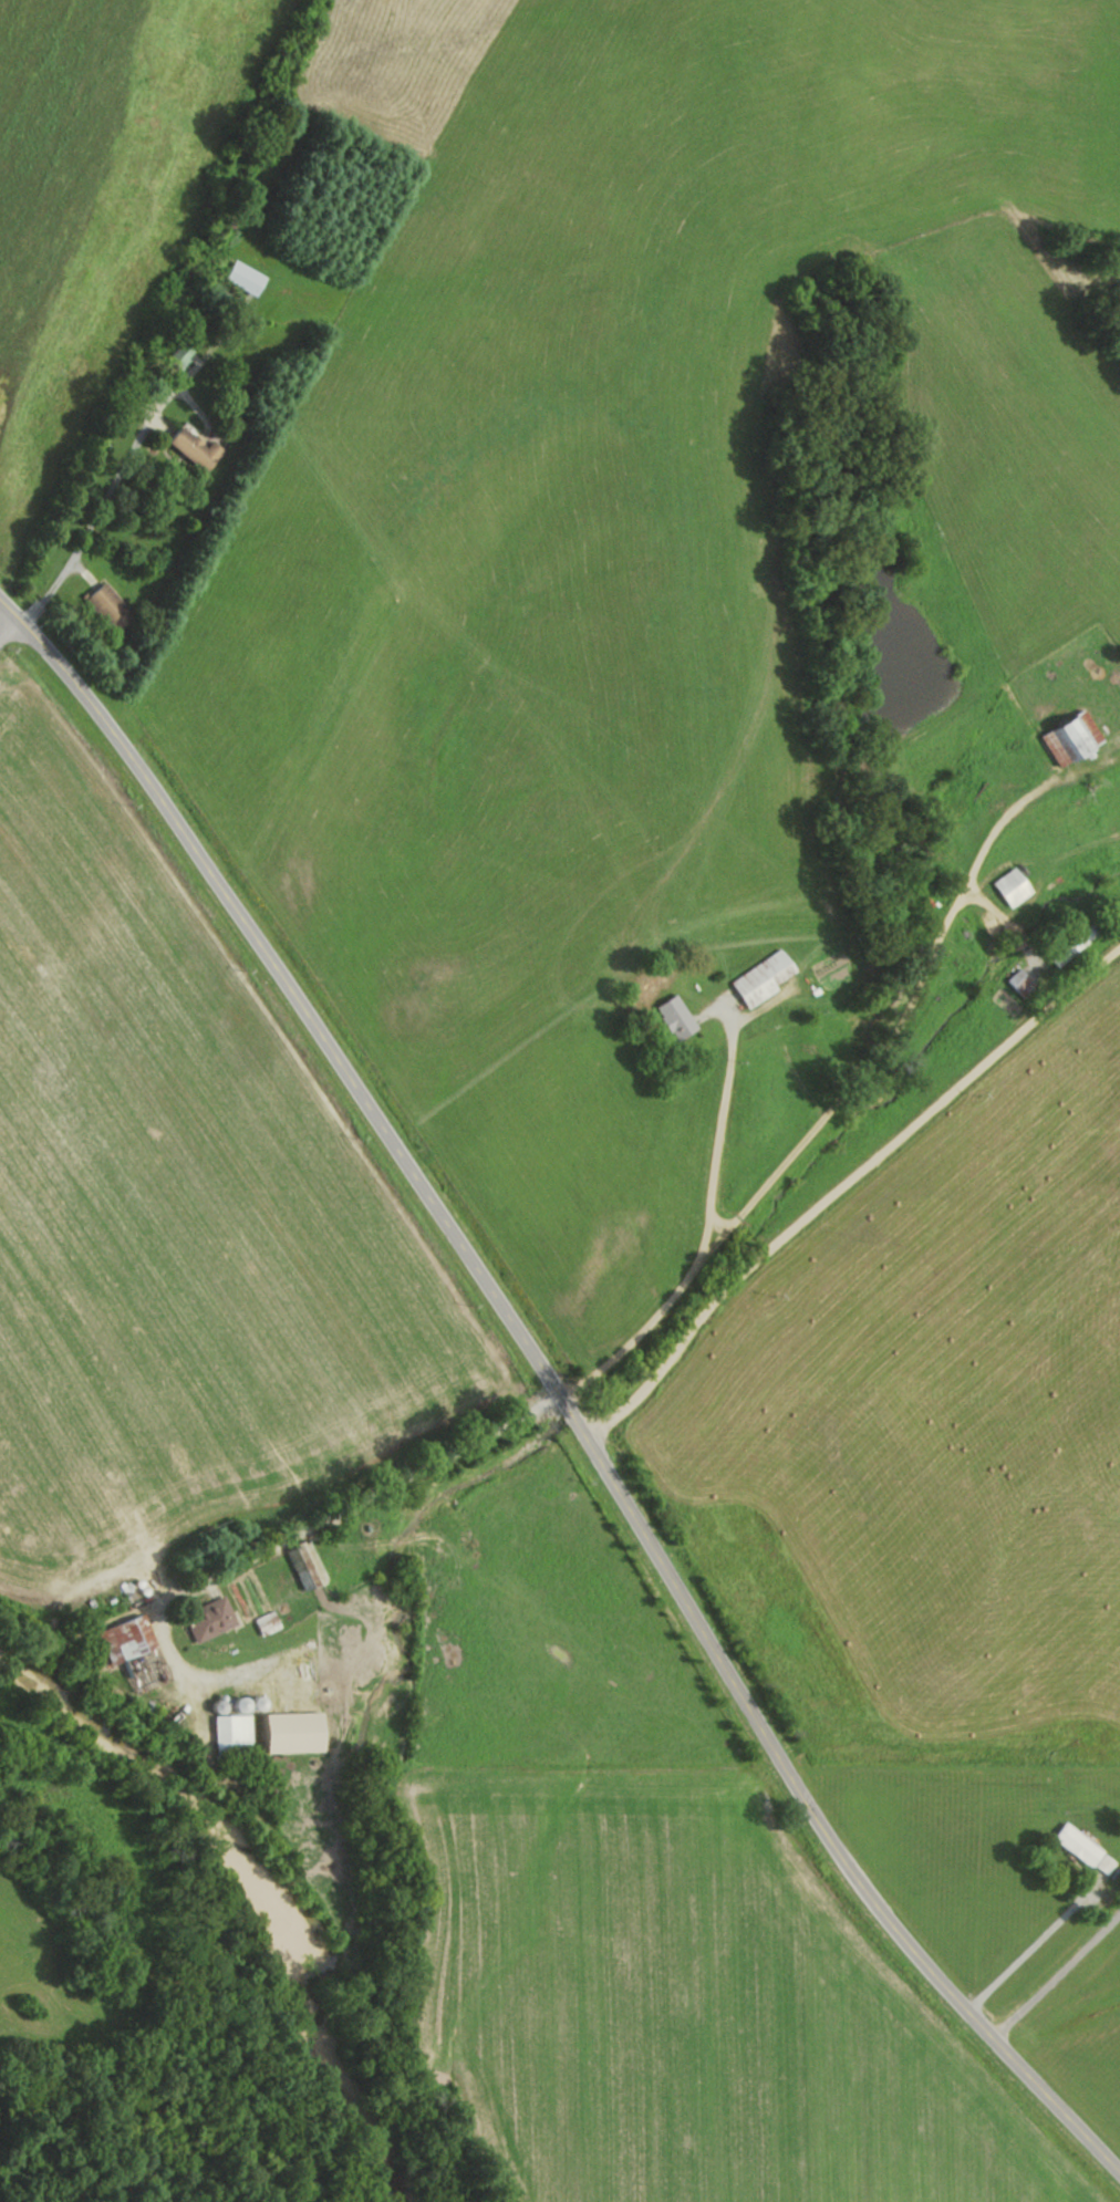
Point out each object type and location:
building: (246, 278)
building: (194, 447)
road: (100, 505)
building: (107, 607)
road: (6, 620)
building: (1064, 735)
building: (1006, 887)
building: (1066, 948)
building: (756, 979)
building: (668, 1017)
road: (815, 1126)
road: (719, 1138)
road: (841, 1185)
road: (551, 1393)
road: (292, 1535)
building: (210, 1619)
building: (267, 1622)
building: (128, 1642)
building: (142, 1674)
building: (232, 1733)
building: (1083, 1848)
road: (1028, 1949)
road: (1058, 1972)

